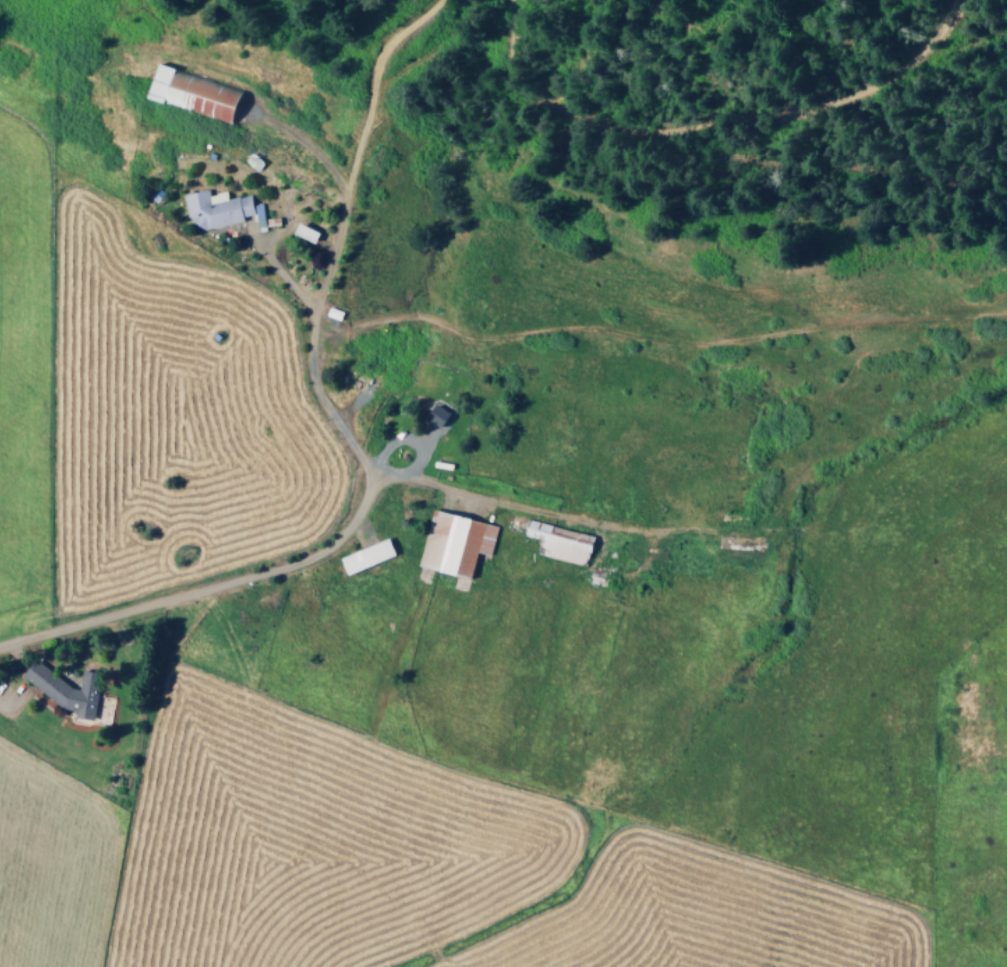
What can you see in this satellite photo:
building: (175, 89)
road: (303, 142)
building: (222, 209)
road: (335, 228)
road: (277, 269)
building: (335, 312)
building: (440, 415)
road: (407, 437)
road: (335, 539)
building: (457, 541)
building: (370, 555)
building: (68, 689)
road: (9, 697)

